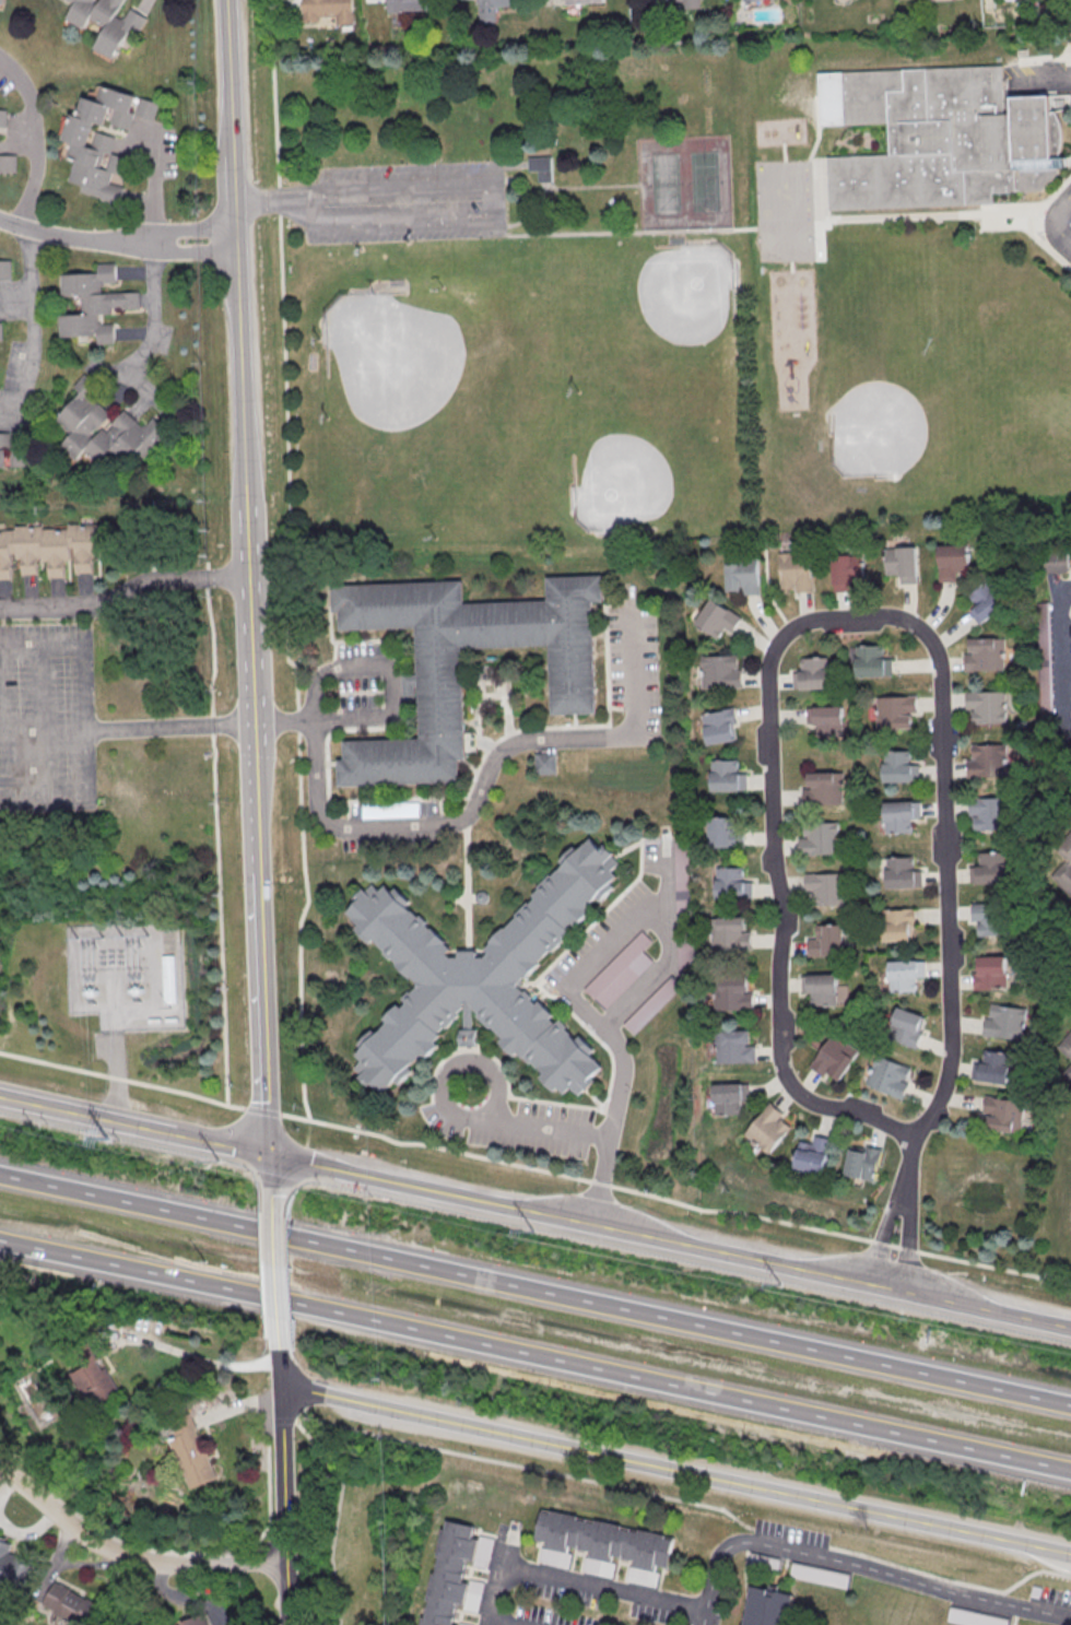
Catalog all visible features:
building: (0, 1)
building: (581, 1)
building: (672, 4)
building: (405, 5)
building: (492, 9)
building: (329, 11)
building: (105, 21)
parking lot: (1040, 76)
road: (1039, 79)
building: (2, 117)
road: (817, 119)
road: (34, 138)
building: (101, 139)
building: (945, 141)
building: (8, 163)
road: (1069, 163)
road: (508, 165)
building: (541, 166)
road: (401, 181)
park: (685, 181)
road: (822, 186)
road: (558, 188)
road: (273, 201)
parking lot: (409, 203)
road: (817, 207)
road: (988, 208)
road: (415, 221)
road: (1055, 223)
parking lot: (1059, 224)
road: (767, 225)
road: (1038, 225)
road: (170, 231)
road: (54, 237)
road: (172, 251)
road: (152, 261)
building: (4, 269)
park: (485, 297)
park: (675, 298)
building: (93, 304)
road: (28, 328)
building: (0, 330)
road: (284, 363)
park: (409, 374)
park: (999, 380)
building: (107, 429)
park: (874, 433)
building: (12, 455)
park: (631, 471)
building: (48, 549)
building: (952, 561)
building: (1055, 561)
building: (902, 563)
building: (847, 570)
building: (796, 572)
road: (249, 575)
building: (742, 576)
road: (125, 593)
building: (986, 601)
building: (717, 617)
road: (919, 631)
building: (984, 653)
road: (1059, 660)
building: (872, 661)
building: (721, 671)
building: (812, 673)
road: (390, 674)
building: (438, 682)
building: (986, 706)
building: (895, 711)
building: (826, 719)
parking lot: (46, 721)
road: (39, 722)
road: (84, 722)
road: (284, 722)
building: (720, 726)
road: (169, 727)
building: (986, 758)
building: (545, 764)
building: (899, 766)
building: (727, 776)
road: (486, 777)
building: (823, 787)
building: (989, 812)
building: (899, 816)
building: (723, 833)
building: (819, 837)
building: (1064, 863)
building: (682, 864)
building: (989, 868)
building: (901, 872)
building: (730, 882)
road: (467, 885)
building: (825, 887)
road: (219, 915)
building: (989, 917)
building: (898, 925)
building: (729, 932)
building: (685, 938)
building: (827, 940)
road: (670, 949)
building: (990, 972)
building: (621, 973)
road: (301, 974)
building: (905, 974)
power substation: (127, 976)
building: (166, 978)
building: (482, 978)
building: (821, 988)
building: (734, 993)
road: (155, 1002)
building: (652, 1006)
building: (1004, 1021)
building: (907, 1026)
road: (607, 1033)
building: (734, 1046)
road: (115, 1049)
building: (1064, 1050)
building: (834, 1058)
building: (993, 1067)
road: (487, 1069)
building: (890, 1076)
building: (729, 1097)
road: (449, 1110)
building: (1003, 1114)
road: (133, 1123)
building: (768, 1128)
road: (545, 1129)
power tower: (104, 1139)
building: (813, 1155)
power tower: (215, 1159)
building: (863, 1161)
road: (907, 1167)
road: (534, 1171)
road: (270, 1182)
power tower: (515, 1230)
road: (883, 1238)
road: (669, 1239)
road: (907, 1244)
road: (273, 1281)
road: (285, 1283)
road: (535, 1291)
power tower: (811, 1292)
road: (535, 1357)
road: (195, 1358)
road: (276, 1365)
building: (97, 1381)
road: (305, 1382)
building: (16, 1401)
building: (192, 1455)
road: (673, 1470)
road: (693, 1497)
road: (281, 1504)
road: (326, 1517)
building: (601, 1540)
road: (128, 1554)
building: (763, 1561)
road: (857, 1566)
building: (13, 1567)
building: (448, 1574)
building: (815, 1575)
road: (572, 1580)
building: (72, 1604)
building: (766, 1608)
building: (969, 1617)
building: (191, 1621)
road: (487, 1623)

